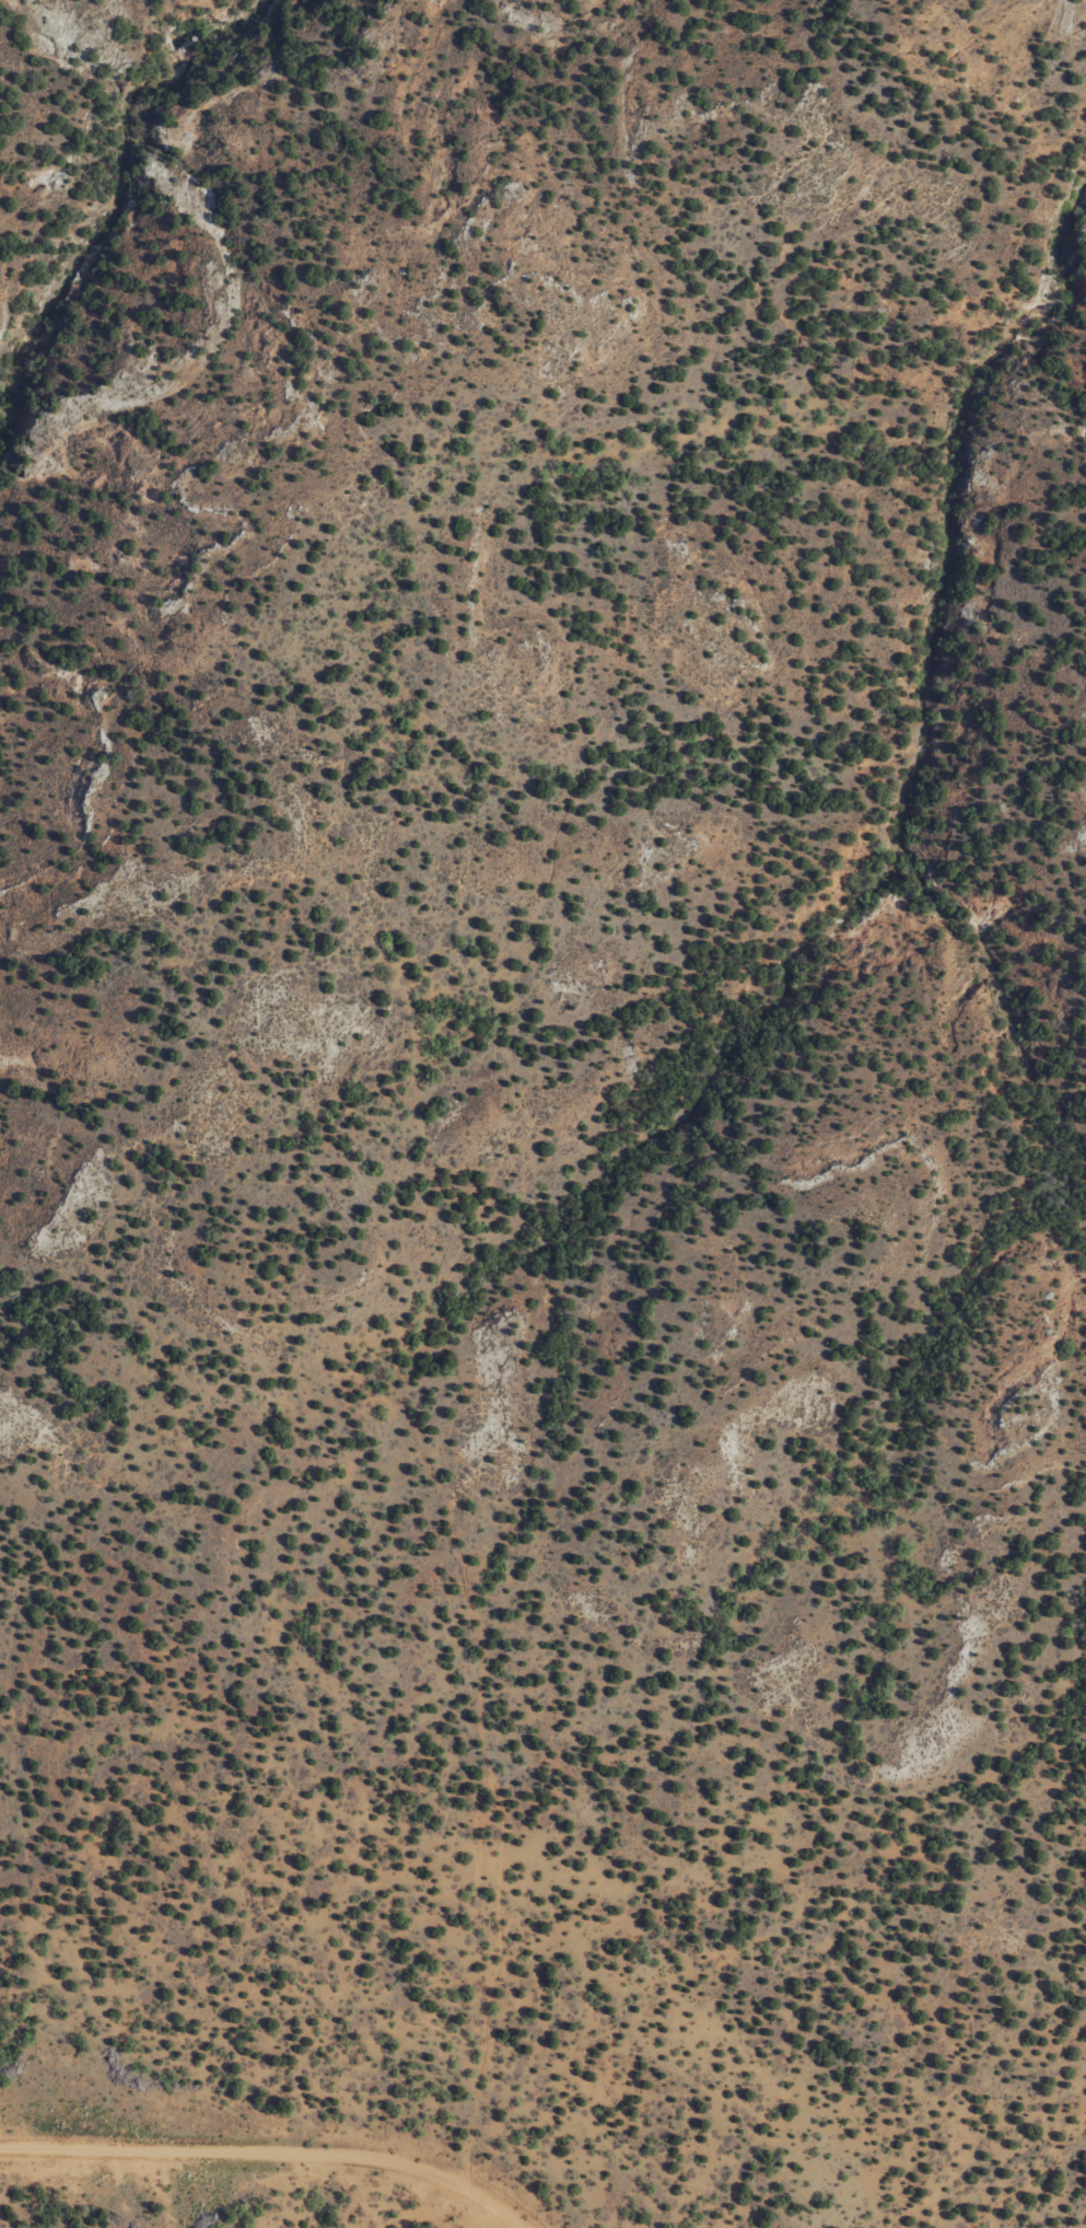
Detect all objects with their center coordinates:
road: (277, 2154)

